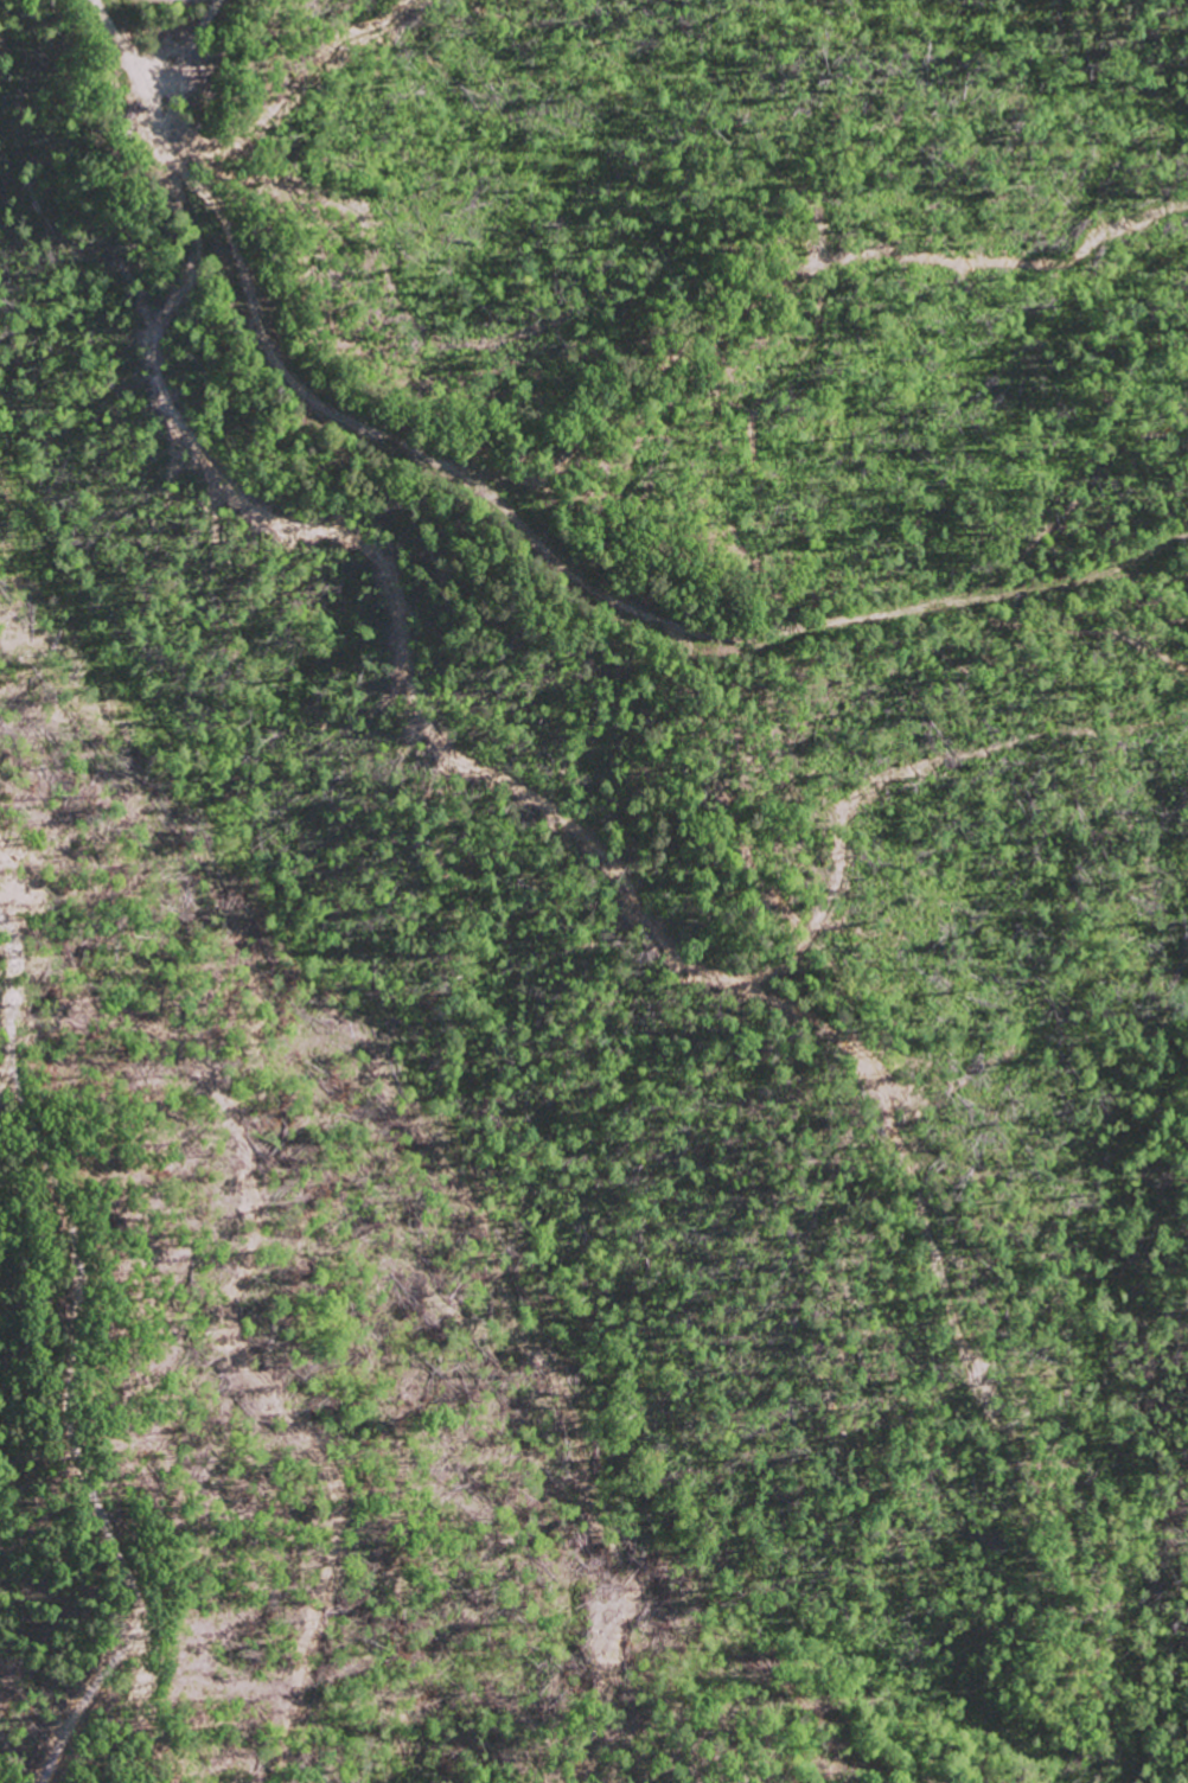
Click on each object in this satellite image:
road: (46, 1420)

